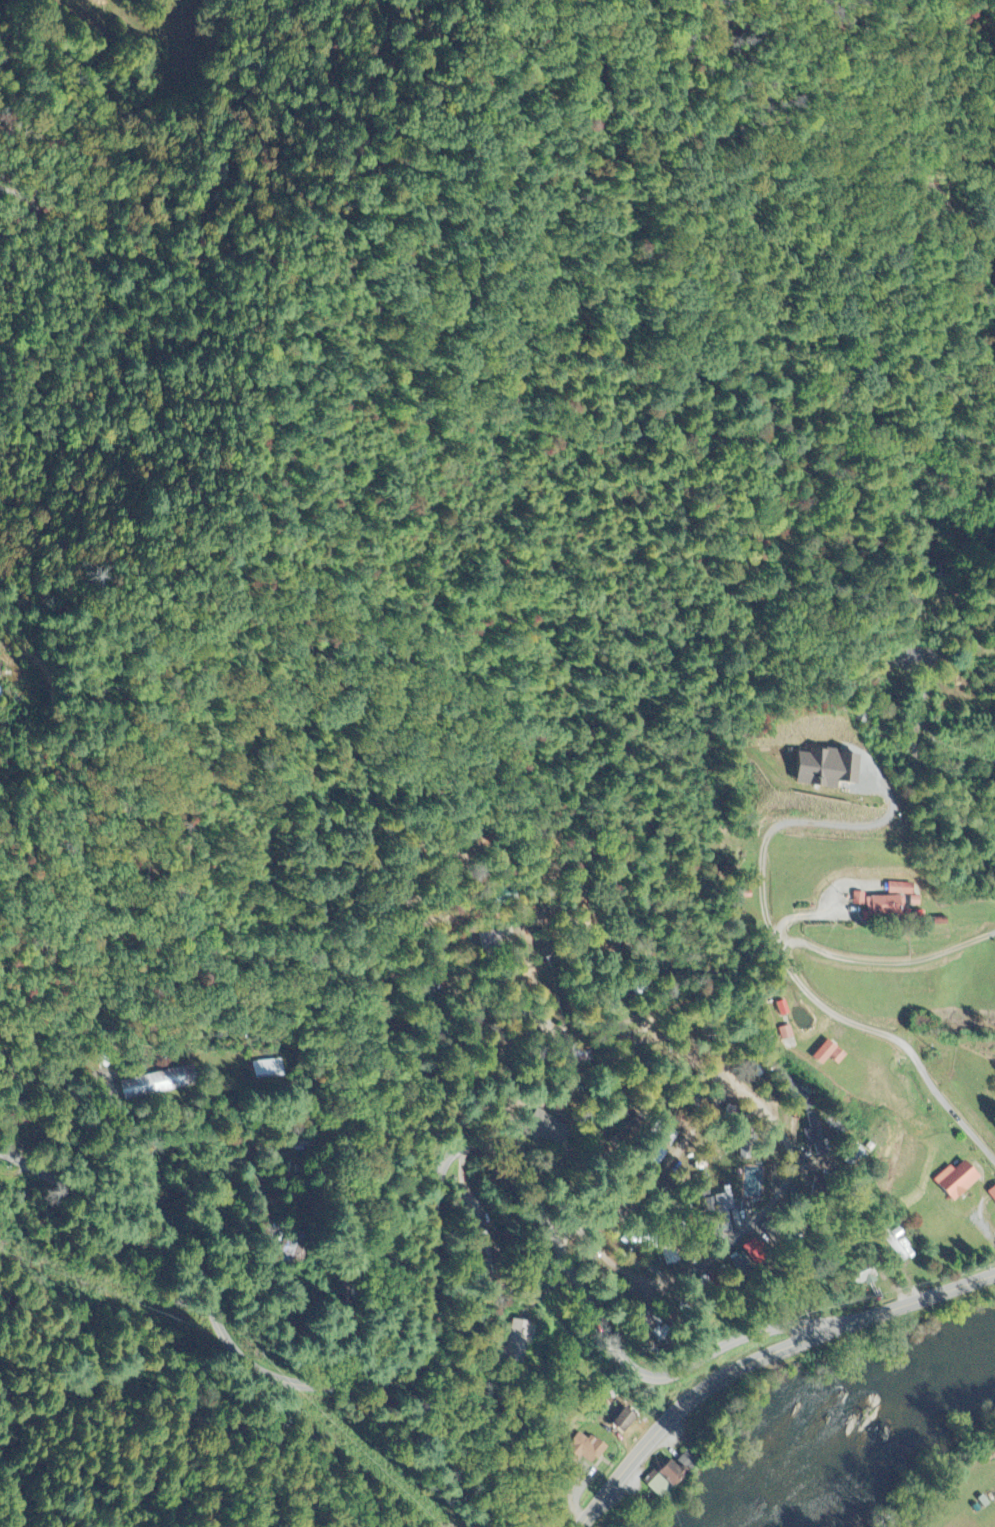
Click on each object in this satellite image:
road: (915, 751)
building: (833, 768)
building: (862, 899)
building: (892, 905)
road: (806, 986)
building: (788, 1034)
building: (831, 1054)
building: (269, 1069)
building: (159, 1084)
building: (548, 1129)
building: (961, 1181)
building: (993, 1194)
road: (267, 1203)
building: (726, 1203)
building: (900, 1246)
building: (288, 1251)
building: (760, 1254)
road: (432, 1266)
building: (520, 1341)
road: (760, 1359)
building: (629, 1421)
river: (853, 1426)
building: (582, 1449)
building: (672, 1476)

